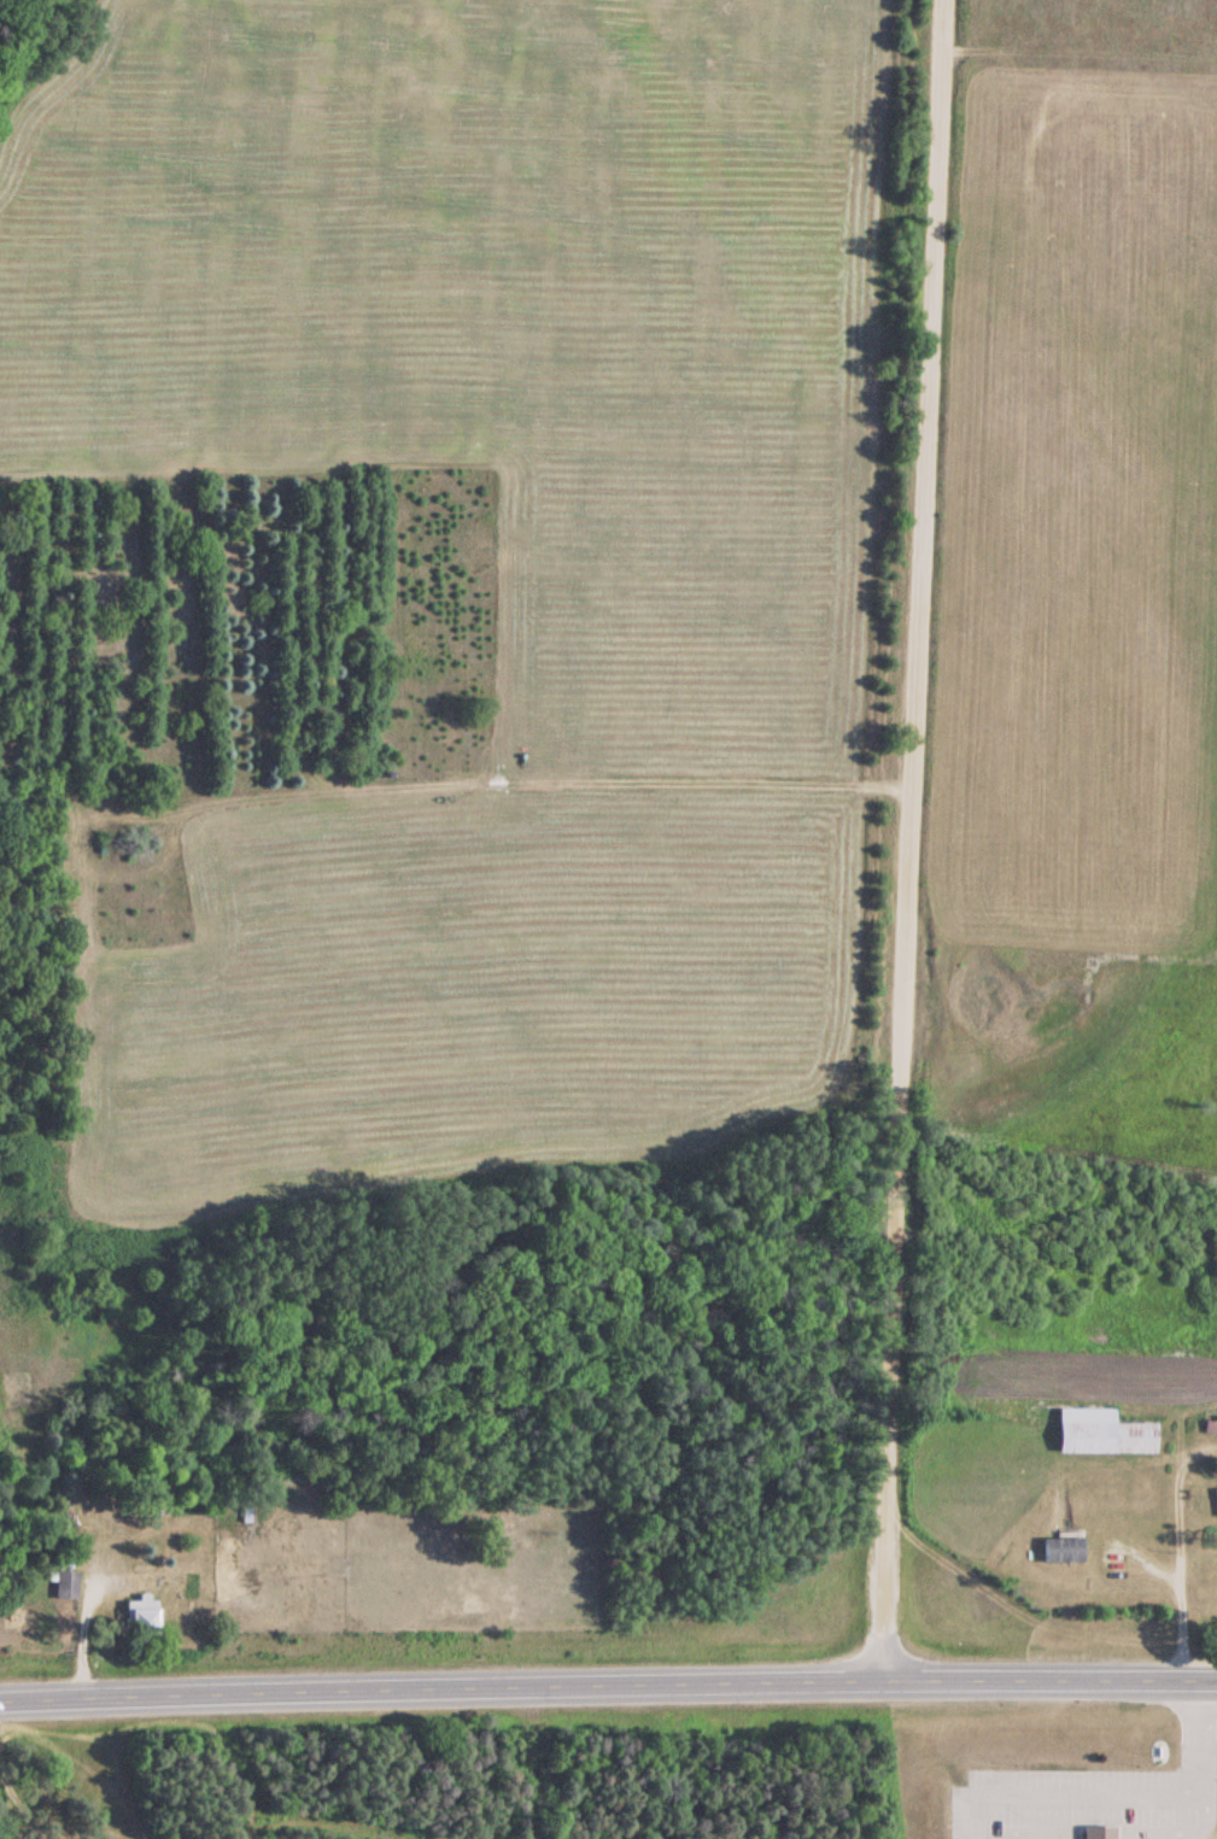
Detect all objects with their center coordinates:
crop: (1079, 587)
crop: (679, 623)
road: (903, 841)
building: (1209, 1423)
building: (1101, 1431)
building: (1213, 1501)
building: (1060, 1548)
building: (64, 1583)
building: (139, 1612)
road: (608, 1685)
building: (1099, 1832)

